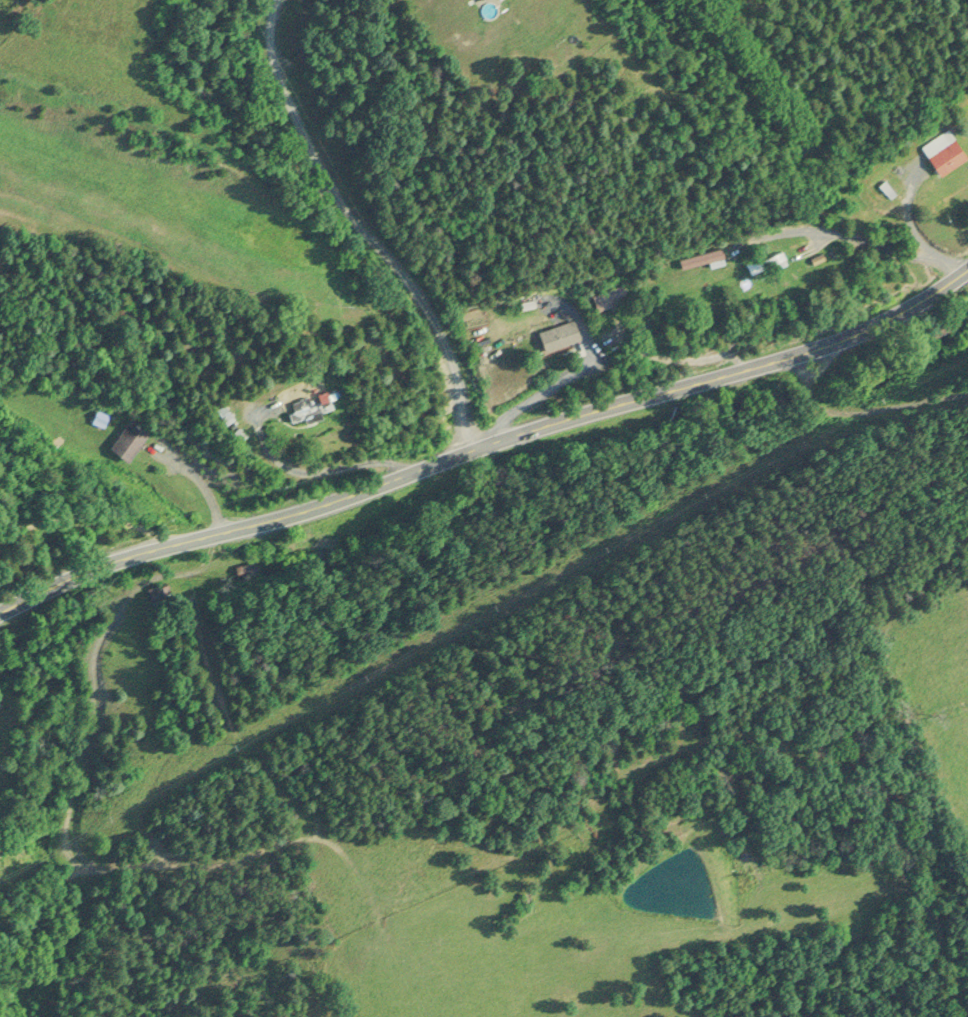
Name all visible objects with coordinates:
building: (941, 153)
road: (367, 230)
building: (699, 259)
building: (765, 263)
building: (607, 298)
building: (555, 336)
building: (305, 408)
road: (872, 409)
building: (126, 441)
road: (489, 447)
road: (203, 484)
road: (87, 515)
building: (158, 594)

